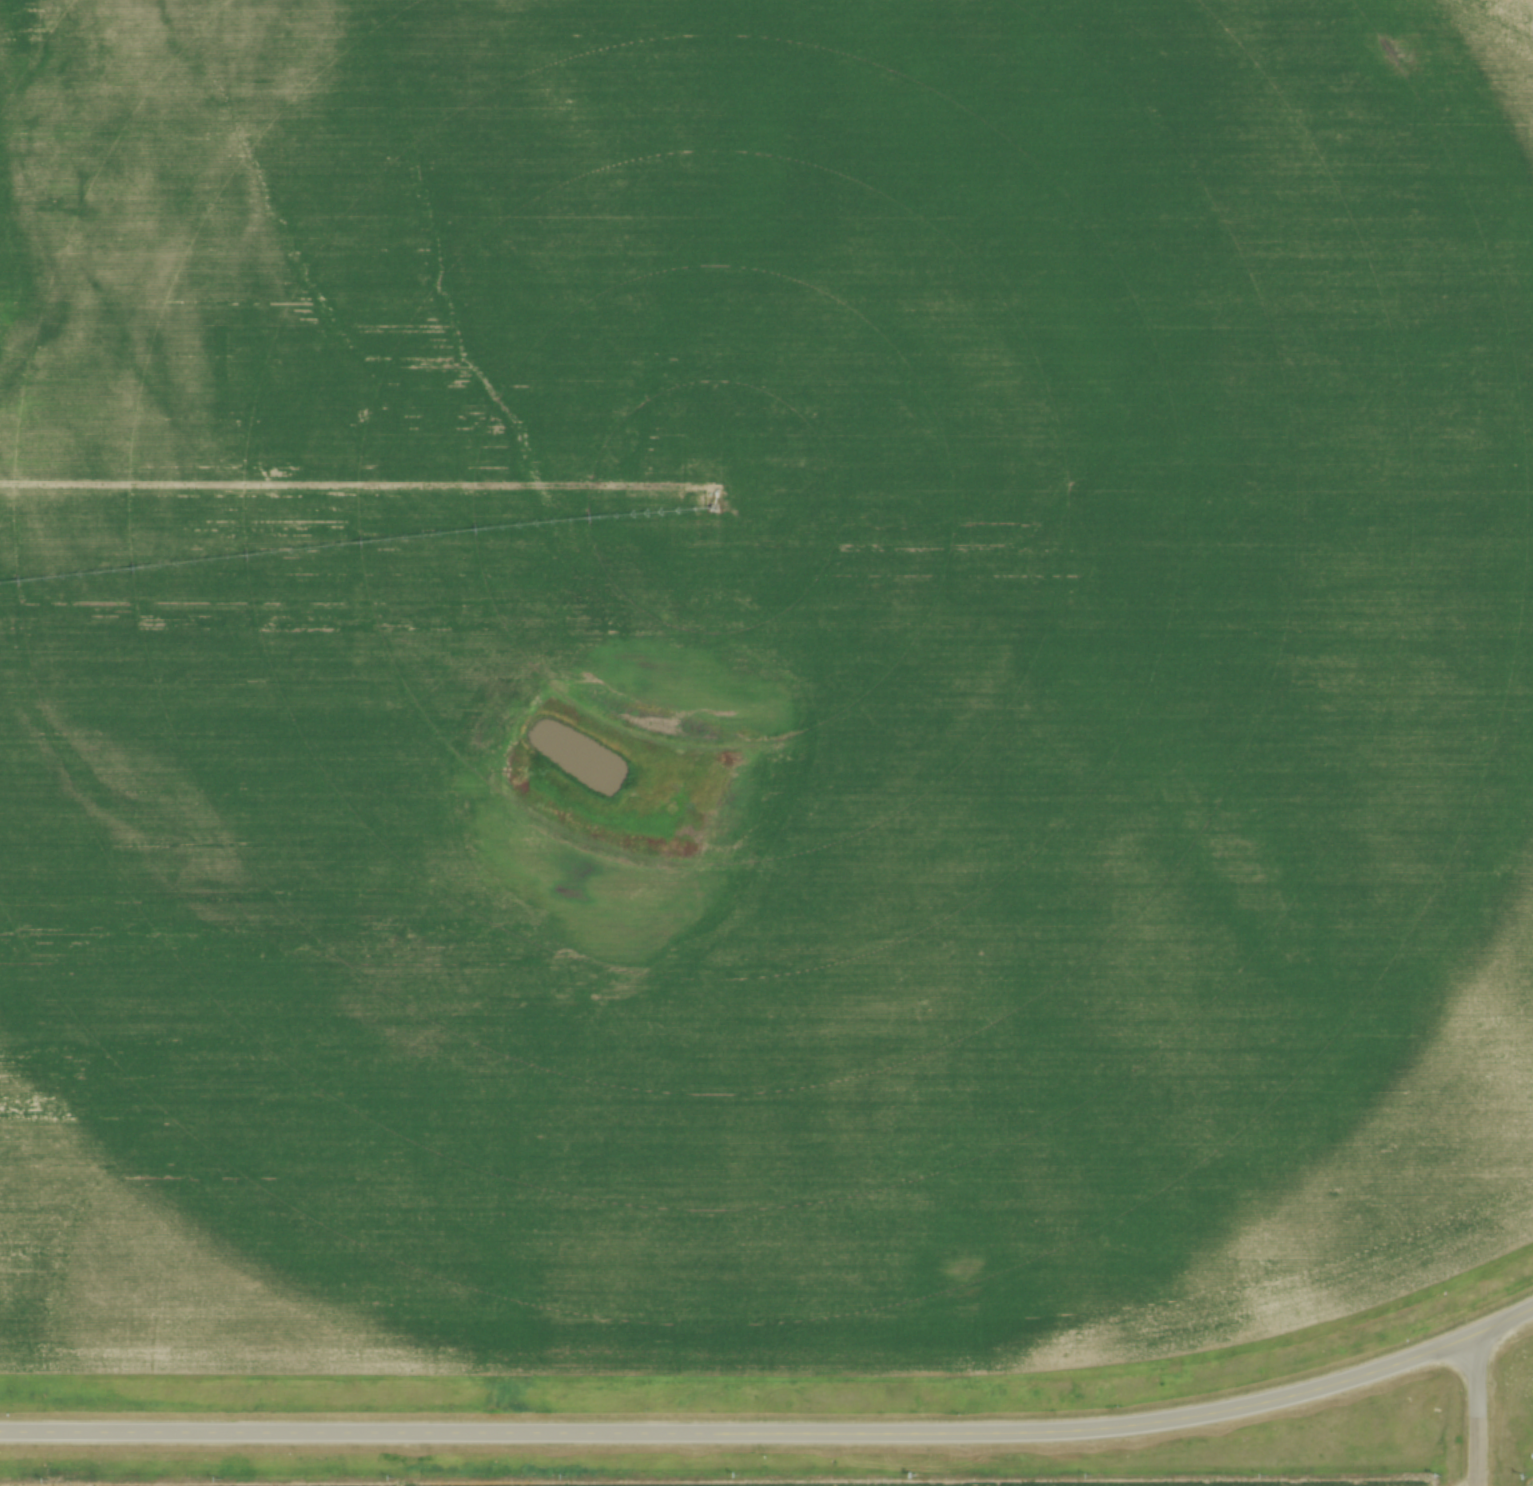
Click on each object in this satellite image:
road: (1474, 1411)
road: (776, 1434)

